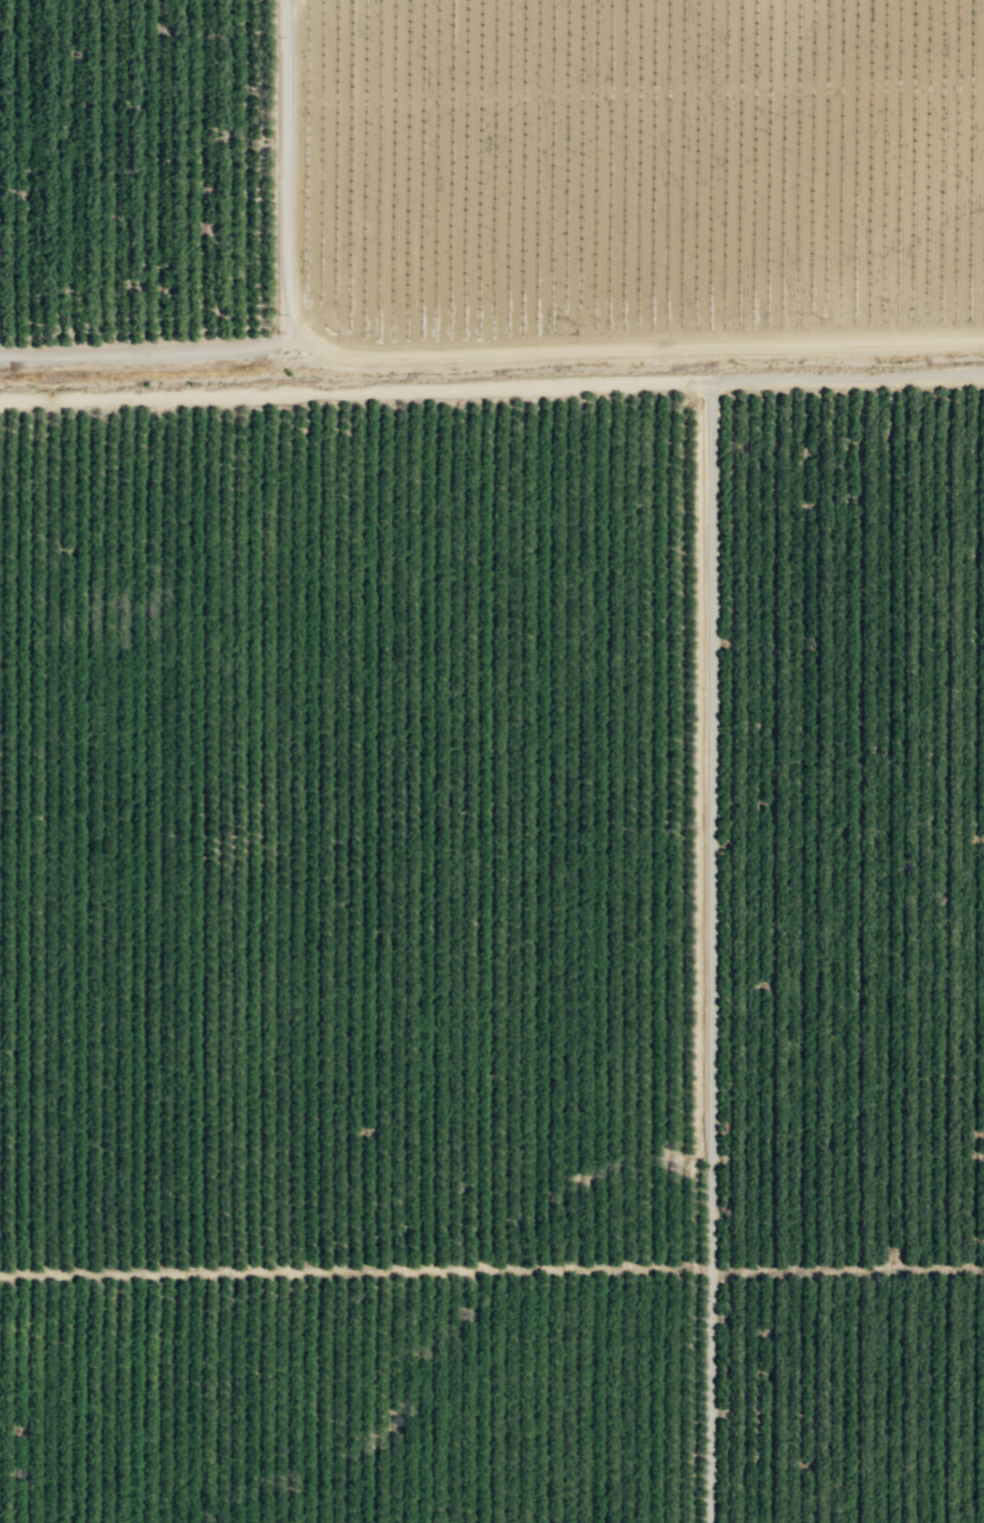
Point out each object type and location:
road: (717, 175)
crop: (625, 181)
road: (153, 354)
road: (470, 357)
road: (491, 387)
road: (711, 825)
road: (492, 1270)
road: (710, 1396)

